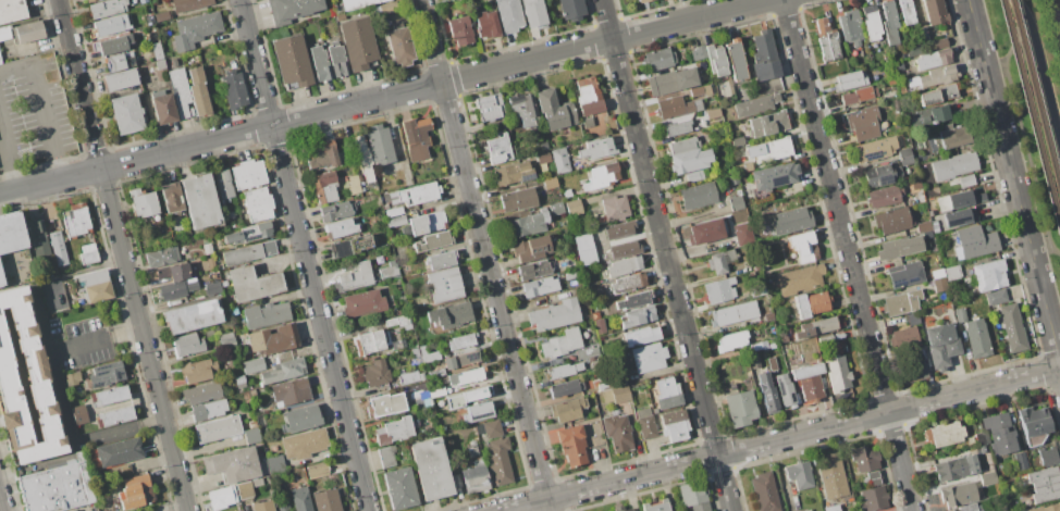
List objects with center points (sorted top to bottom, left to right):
building: (87, 0)
building: (90, 0)
building: (449, 0)
building: (642, 1)
building: (359, 3)
building: (188, 4)
building: (107, 8)
building: (292, 9)
building: (570, 9)
building: (12, 11)
building: (907, 11)
building: (935, 11)
building: (533, 13)
building: (509, 14)
building: (162, 15)
building: (340, 16)
building: (871, 23)
building: (890, 23)
building: (486, 24)
building: (108, 25)
building: (199, 26)
building: (850, 27)
building: (460, 30)
building: (28, 32)
building: (4, 33)
building: (828, 40)
building: (358, 42)
building: (940, 42)
building: (400, 43)
building: (113, 45)
road: (36, 46)
building: (929, 46)
building: (701, 52)
building: (694, 54)
building: (764, 57)
building: (658, 59)
building: (933, 59)
building: (0, 60)
building: (337, 60)
building: (293, 61)
building: (715, 61)
building: (736, 61)
building: (115, 62)
building: (320, 63)
building: (899, 66)
road: (1041, 66)
building: (938, 76)
building: (120, 79)
building: (850, 79)
building: (671, 82)
building: (901, 88)
building: (180, 90)
building: (702, 90)
building: (198, 91)
building: (235, 91)
building: (859, 95)
building: (939, 95)
railway: (1035, 95)
building: (589, 96)
road: (381, 97)
park: (1033, 102)
building: (756, 105)
building: (522, 107)
building: (486, 108)
building: (678, 108)
building: (45, 109)
building: (164, 109)
building: (555, 110)
building: (193, 111)
railway: (1031, 112)
building: (126, 114)
building: (713, 114)
building: (928, 116)
building: (588, 122)
building: (768, 123)
building: (863, 123)
parking lot: (12, 126)
building: (677, 128)
building: (954, 136)
building: (416, 137)
building: (737, 141)
building: (379, 145)
building: (399, 146)
building: (542, 146)
building: (597, 148)
building: (773, 149)
building: (498, 150)
building: (872, 151)
road: (9, 154)
building: (322, 155)
building: (688, 155)
building: (542, 157)
building: (905, 157)
building: (363, 158)
building: (405, 158)
building: (397, 159)
building: (560, 160)
building: (744, 164)
building: (953, 165)
building: (249, 173)
building: (514, 173)
building: (694, 175)
building: (879, 175)
building: (402, 176)
building: (601, 176)
building: (774, 176)
building: (732, 178)
building: (966, 178)
building: (550, 182)
road: (1013, 183)
building: (223, 184)
building: (355, 186)
building: (324, 187)
building: (905, 187)
building: (567, 192)
building: (419, 194)
building: (697, 196)
building: (884, 197)
building: (171, 198)
building: (393, 198)
building: (916, 198)
building: (963, 198)
building: (519, 199)
building: (200, 201)
building: (736, 202)
building: (143, 203)
building: (258, 204)
building: (386, 207)
building: (574, 208)
building: (615, 208)
building: (556, 209)
building: (335, 210)
building: (394, 212)
building: (930, 212)
building: (959, 217)
building: (891, 220)
building: (75, 221)
building: (395, 221)
building: (790, 221)
building: (427, 222)
building: (529, 223)
building: (38, 226)
building: (341, 227)
road: (658, 227)
building: (708, 228)
building: (167, 229)
building: (619, 229)
building: (741, 229)
building: (764, 229)
building: (11, 234)
building: (249, 234)
building: (928, 240)
building: (433, 241)
building: (976, 241)
building: (40, 246)
building: (804, 247)
building: (899, 247)
building: (207, 248)
building: (343, 249)
building: (530, 249)
building: (584, 249)
building: (625, 249)
building: (248, 253)
building: (88, 254)
road: (484, 254)
road: (121, 255)
road: (303, 255)
building: (574, 255)
road: (848, 255)
building: (62, 257)
building: (162, 257)
building: (441, 260)
building: (720, 261)
building: (211, 263)
building: (624, 265)
building: (764, 265)
building: (534, 270)
building: (174, 272)
building: (389, 272)
building: (952, 272)
building: (570, 274)
building: (905, 274)
building: (989, 275)
building: (355, 278)
building: (938, 279)
building: (1, 281)
building: (800, 281)
building: (224, 283)
building: (629, 283)
building: (252, 284)
building: (445, 285)
building: (97, 286)
building: (211, 287)
building: (540, 287)
building: (176, 289)
building: (719, 290)
building: (759, 290)
building: (996, 297)
building: (631, 299)
building: (903, 301)
building: (363, 303)
building: (811, 304)
building: (233, 311)
building: (399, 312)
building: (735, 313)
building: (554, 314)
building: (960, 314)
building: (266, 315)
building: (451, 315)
building: (639, 315)
building: (769, 315)
building: (193, 316)
building: (912, 319)
building: (404, 320)
building: (391, 322)
building: (599, 326)
building: (816, 327)
building: (1013, 327)
building: (640, 336)
building: (782, 336)
building: (977, 337)
building: (905, 338)
building: (227, 340)
building: (271, 340)
building: (731, 340)
building: (825, 340)
building: (371, 341)
building: (461, 341)
road: (91, 342)
building: (562, 342)
building: (187, 345)
building: (940, 345)
building: (760, 346)
building: (415, 352)
building: (436, 353)
building: (589, 353)
building: (649, 357)
building: (461, 359)
building: (754, 362)
building: (771, 363)
road: (22, 364)
building: (274, 369)
building: (565, 370)
building: (197, 371)
building: (913, 371)
building: (108, 373)
building: (374, 373)
building: (435, 373)
building: (838, 374)
building: (408, 376)
building: (422, 376)
building: (466, 376)
building: (616, 377)
building: (73, 378)
building: (238, 379)
building: (809, 382)
building: (26, 385)
building: (567, 387)
building: (732, 387)
building: (784, 390)
building: (291, 391)
building: (418, 391)
building: (666, 391)
building: (767, 391)
building: (202, 392)
building: (436, 392)
building: (470, 394)
building: (615, 394)
building: (245, 397)
building: (387, 404)
building: (131, 407)
building: (739, 408)
building: (208, 409)
building: (567, 410)
building: (479, 412)
building: (78, 414)
building: (303, 417)
building: (261, 420)
building: (251, 423)
building: (646, 423)
building: (1034, 424)
building: (675, 425)
building: (284, 428)
building: (492, 428)
building: (217, 429)
building: (395, 429)
building: (618, 432)
building: (999, 433)
building: (944, 434)
building: (252, 436)
road: (780, 439)
building: (971, 440)
building: (305, 444)
building: (572, 445)
building: (472, 449)
building: (118, 451)
building: (981, 452)
building: (1048, 456)
building: (386, 457)
building: (865, 457)
building: (501, 461)
building: (1020, 461)
building: (233, 463)
building: (275, 463)
building: (263, 468)
building: (430, 469)
building: (951, 470)
building: (318, 471)
building: (800, 474)
building: (831, 475)
building: (278, 477)
building: (474, 477)
building: (874, 477)
building: (987, 478)
building: (257, 483)
road: (724, 483)
building: (1044, 485)
building: (58, 488)
building: (399, 488)
building: (244, 489)
building: (133, 491)
building: (765, 491)
building: (958, 495)
building: (694, 496)
building: (220, 497)
building: (872, 497)
building: (301, 499)
building: (325, 500)
building: (262, 506)
building: (283, 506)
road: (173, 507)
building: (656, 507)
parking lot: (159, 508)
building: (830, 508)
building: (970, 508)
building: (1046, 508)
building: (623, 509)
building: (806, 510)

